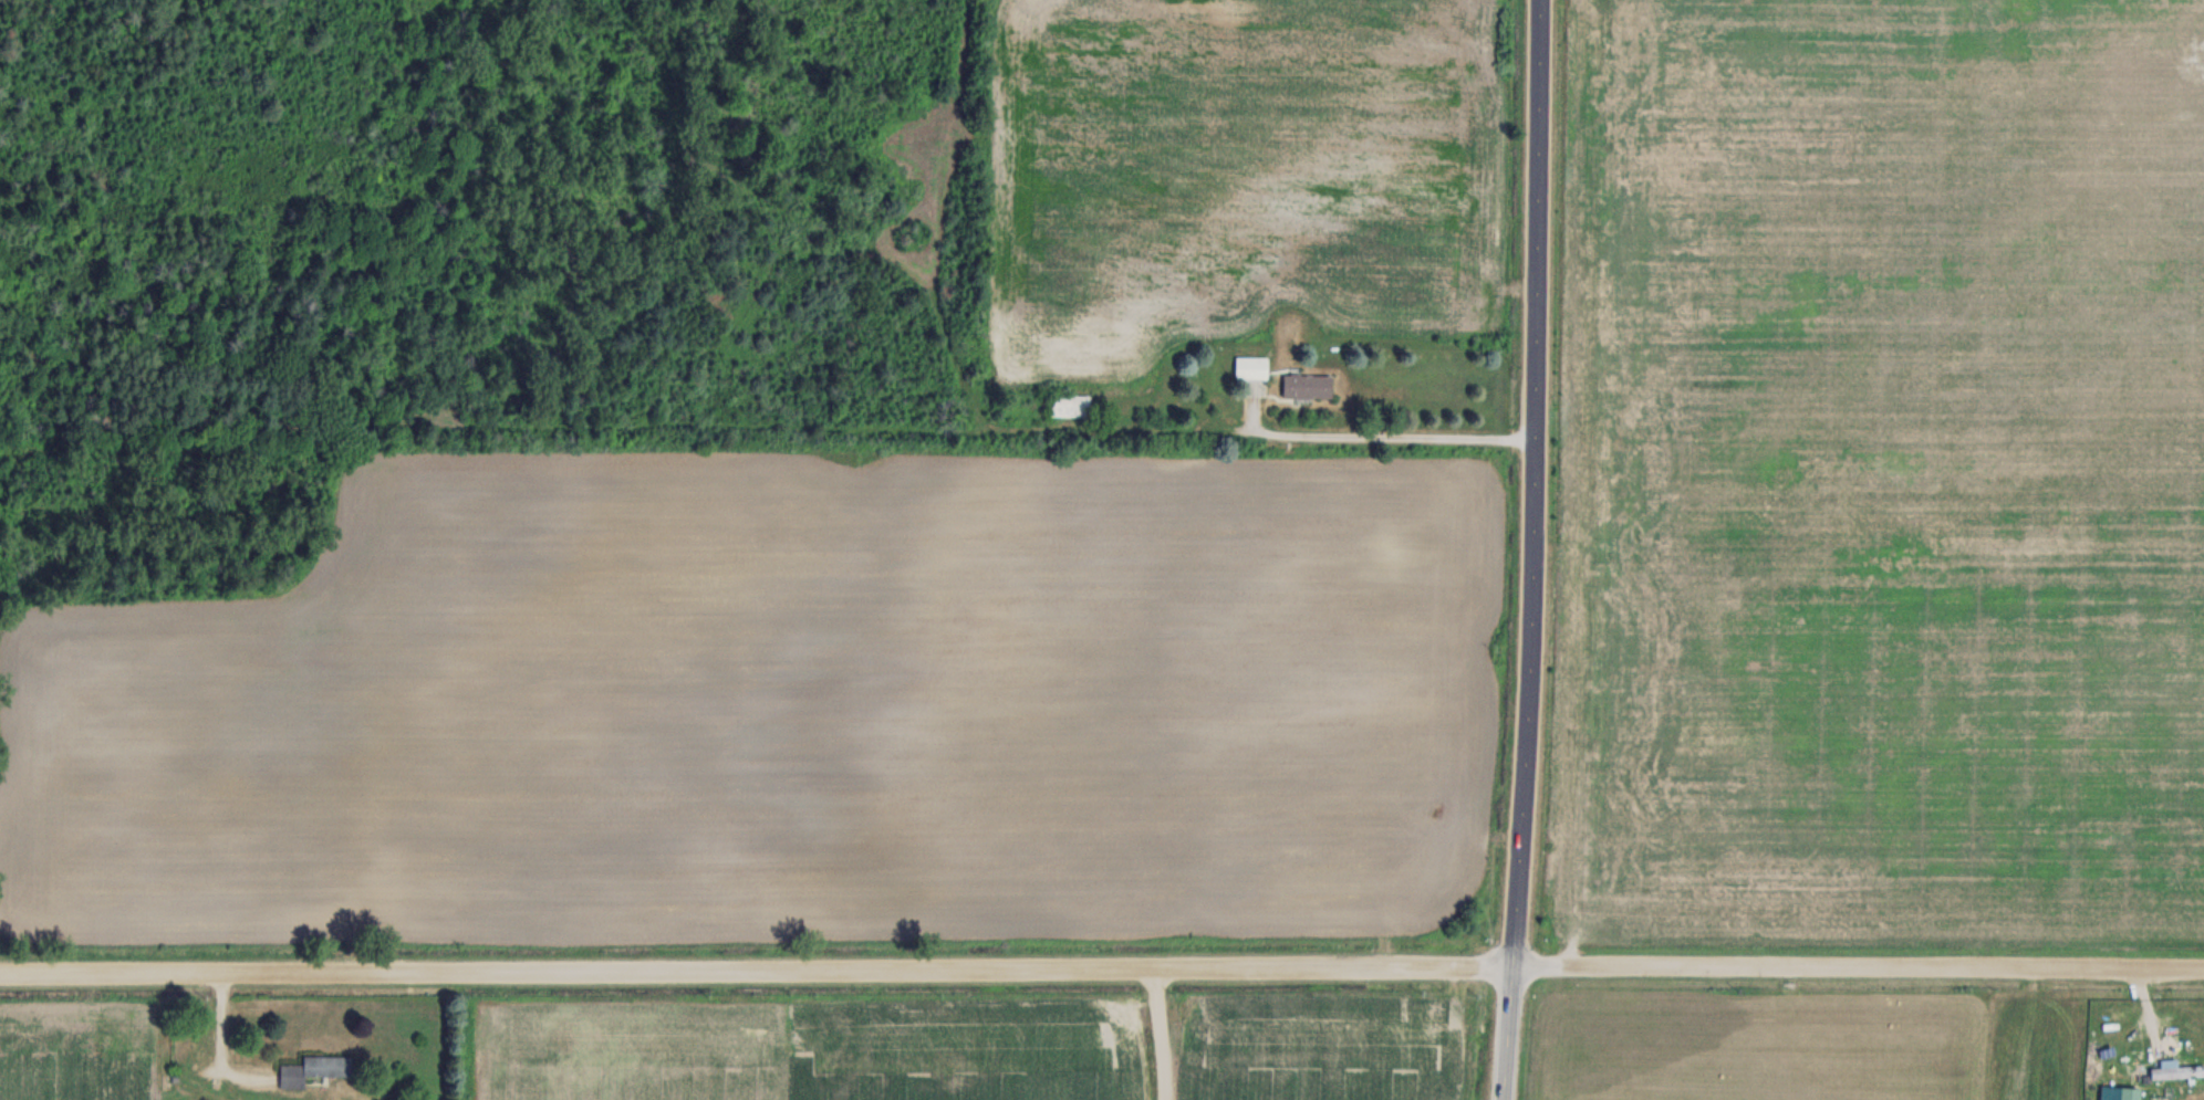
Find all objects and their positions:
building: (1251, 367)
building: (1307, 386)
building: (1070, 405)
road: (1371, 436)
road: (1532, 549)
road: (1102, 966)
building: (313, 1068)
building: (2177, 1070)
building: (2129, 1092)

